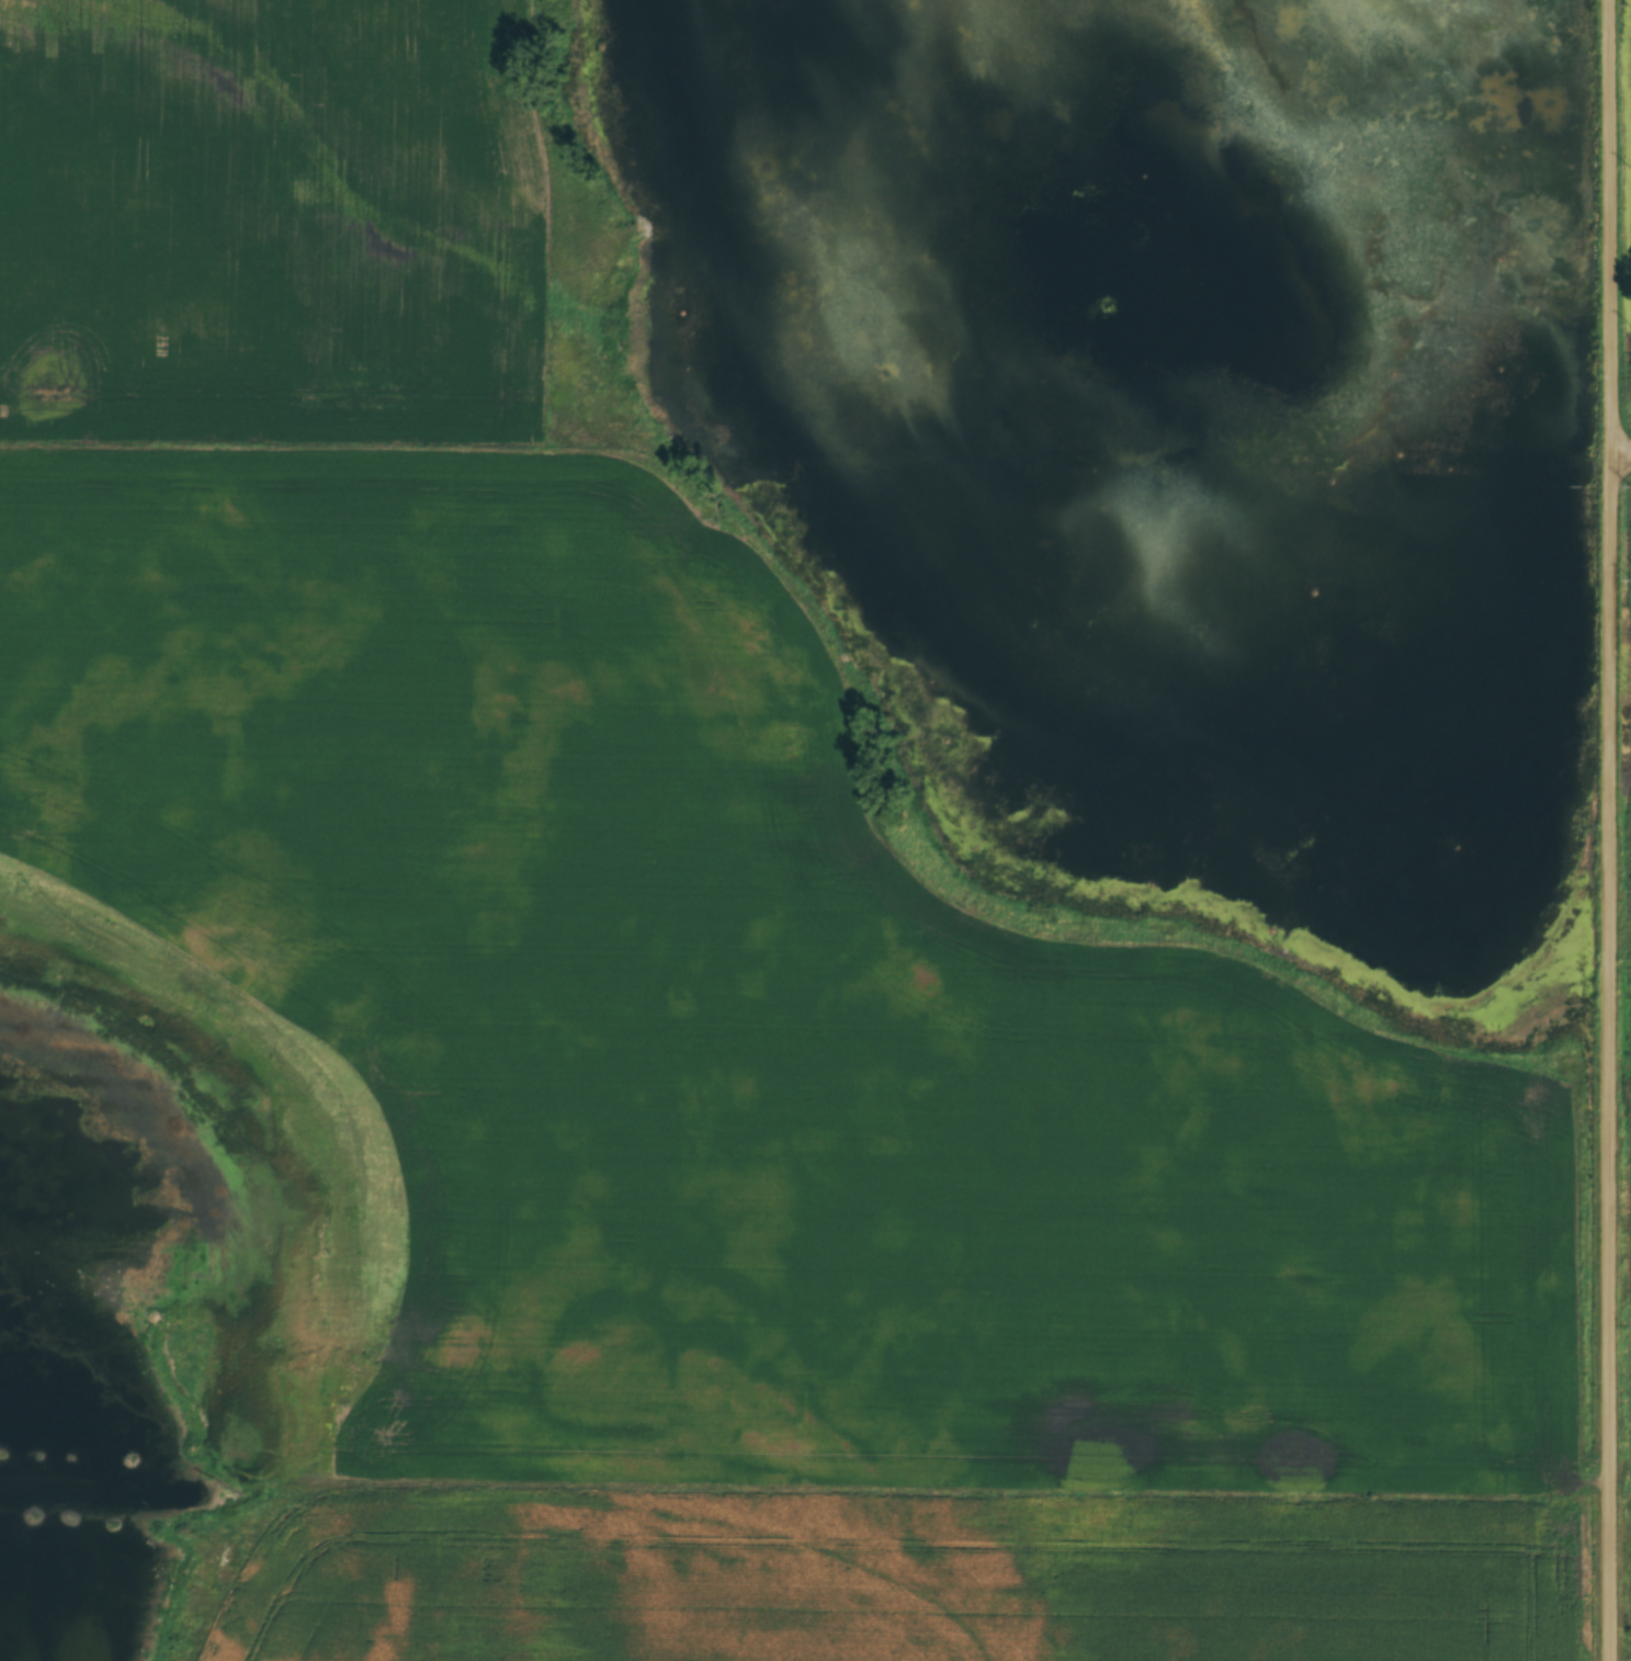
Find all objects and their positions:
road: (1621, 462)
road: (1611, 829)

